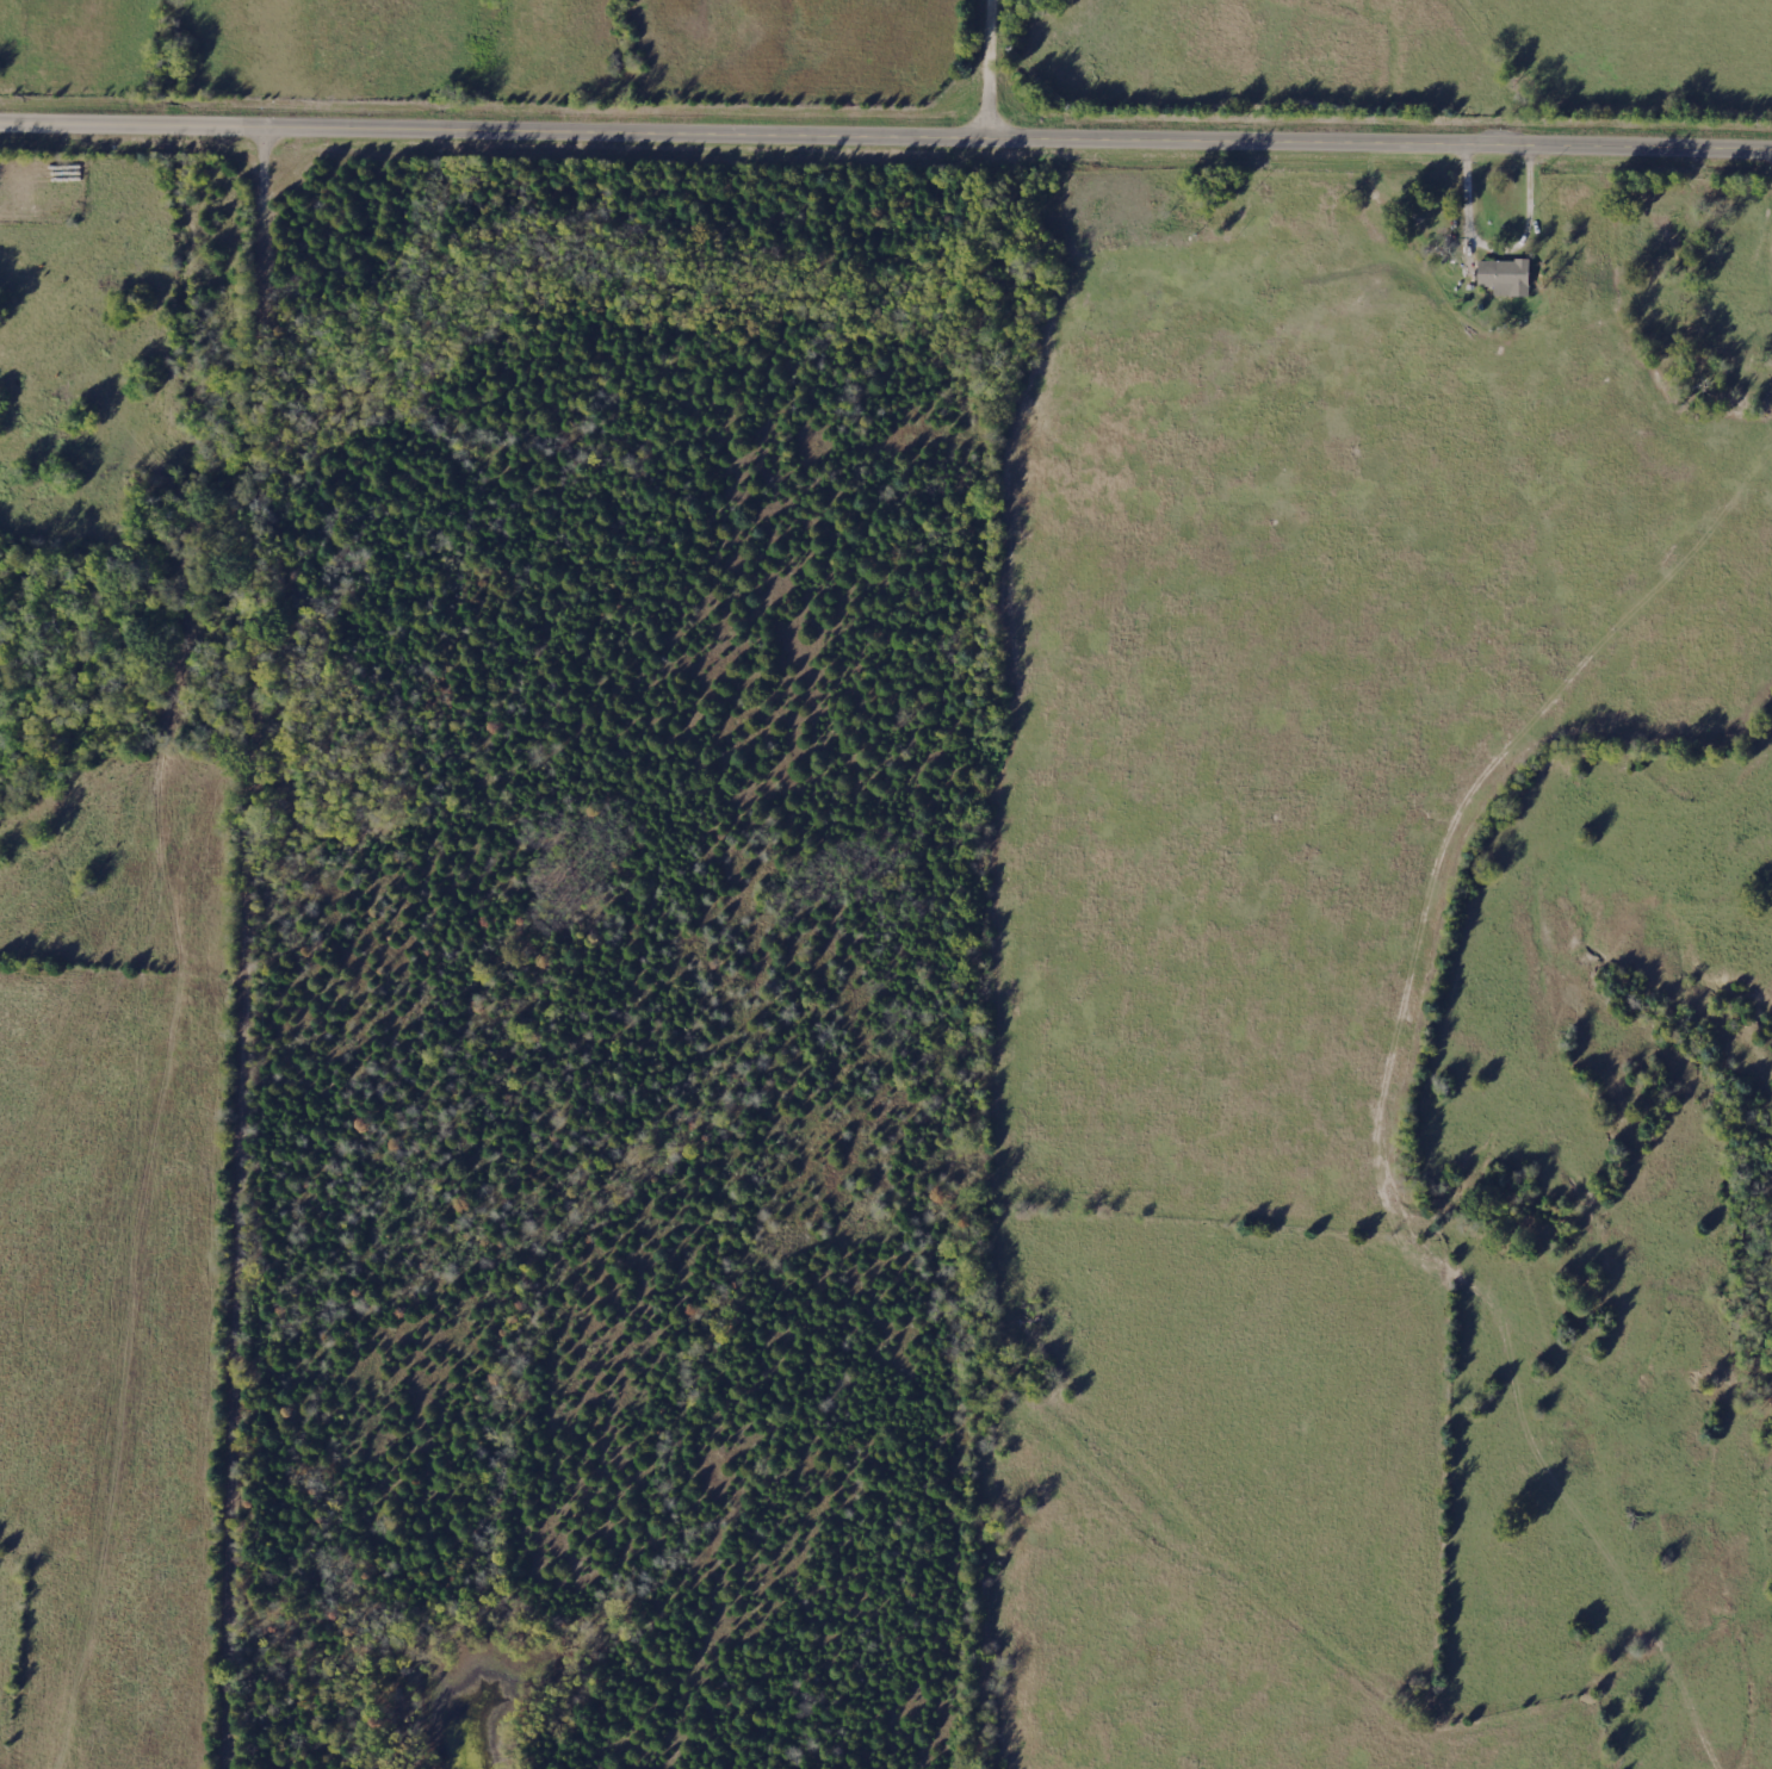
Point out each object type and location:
road: (983, 68)
road: (886, 131)
building: (1505, 278)
road: (224, 945)

